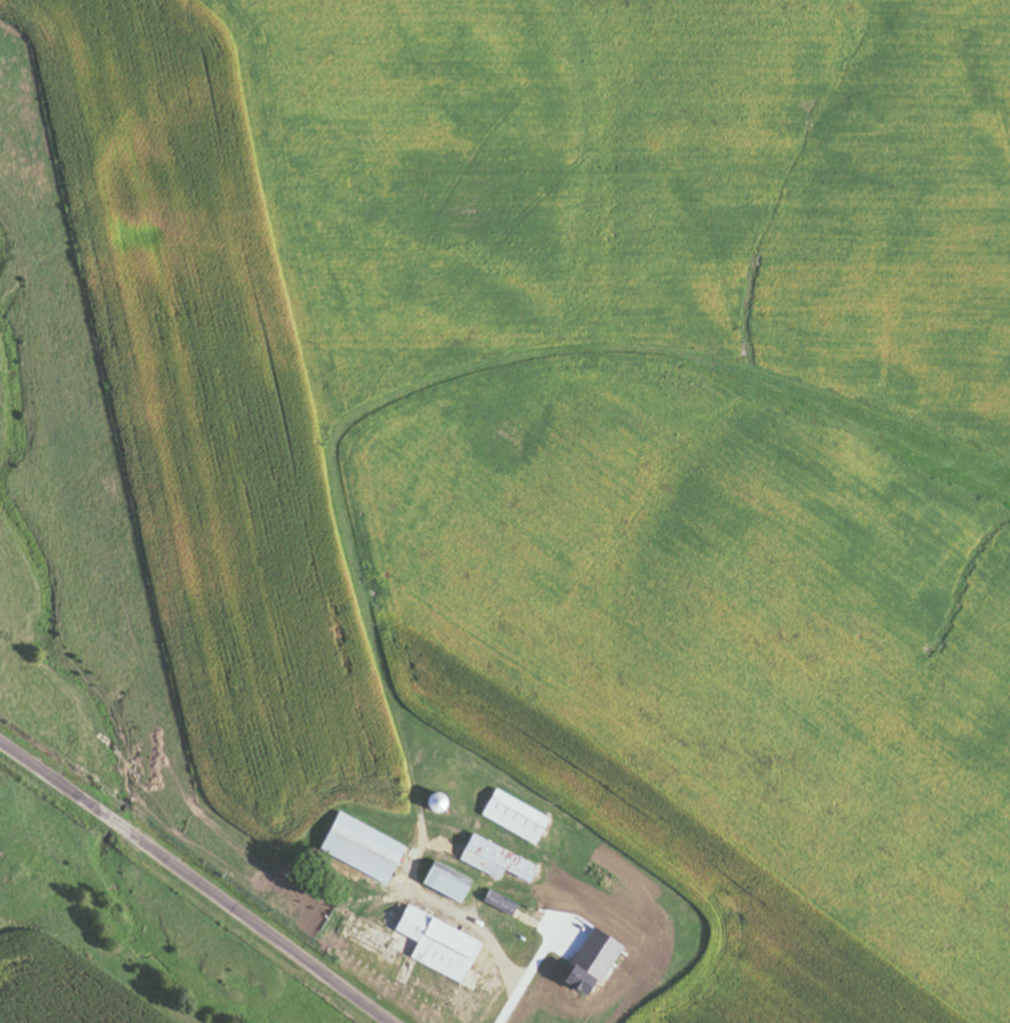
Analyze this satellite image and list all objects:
road: (195, 882)
road: (522, 986)

